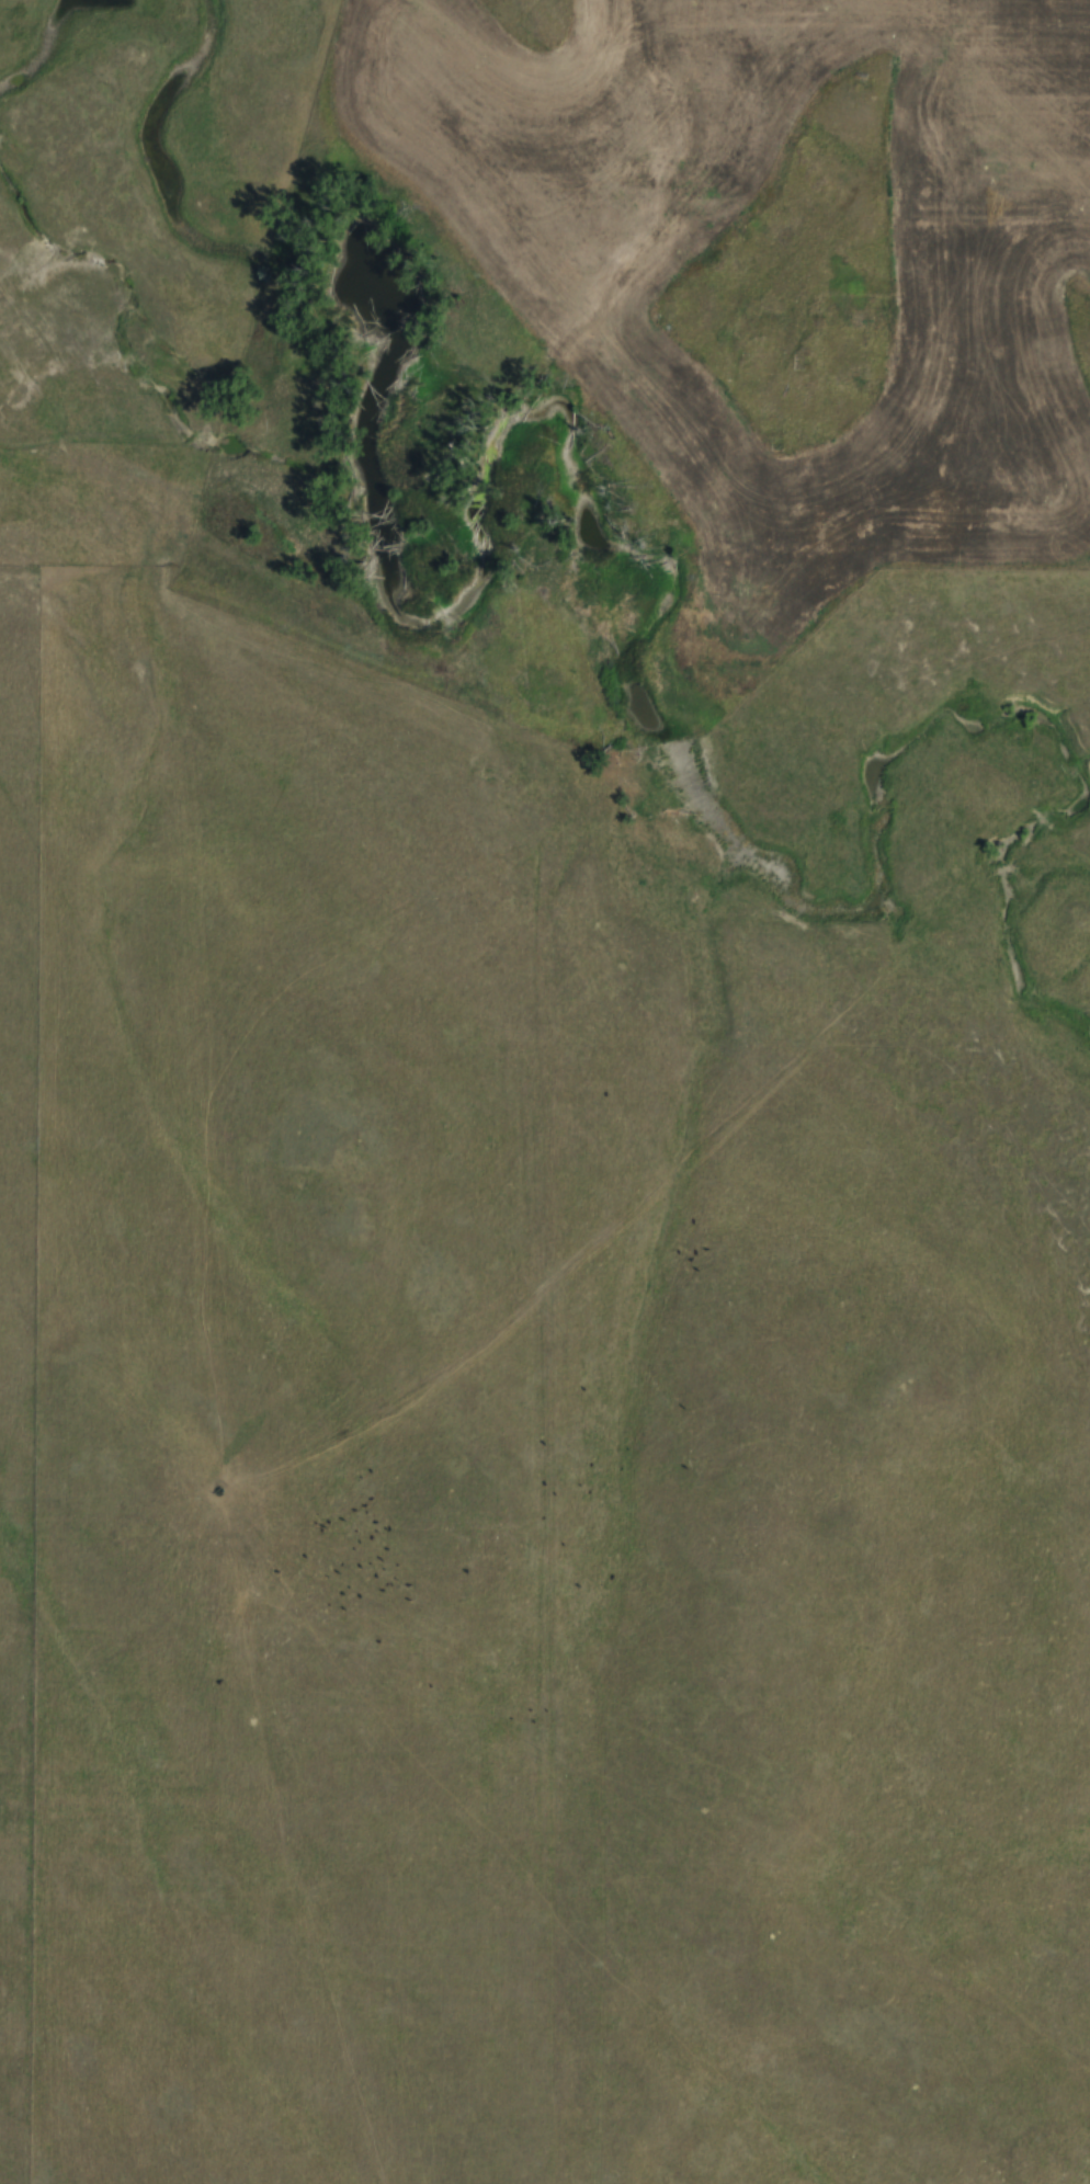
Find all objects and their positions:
road: (876, 144)

